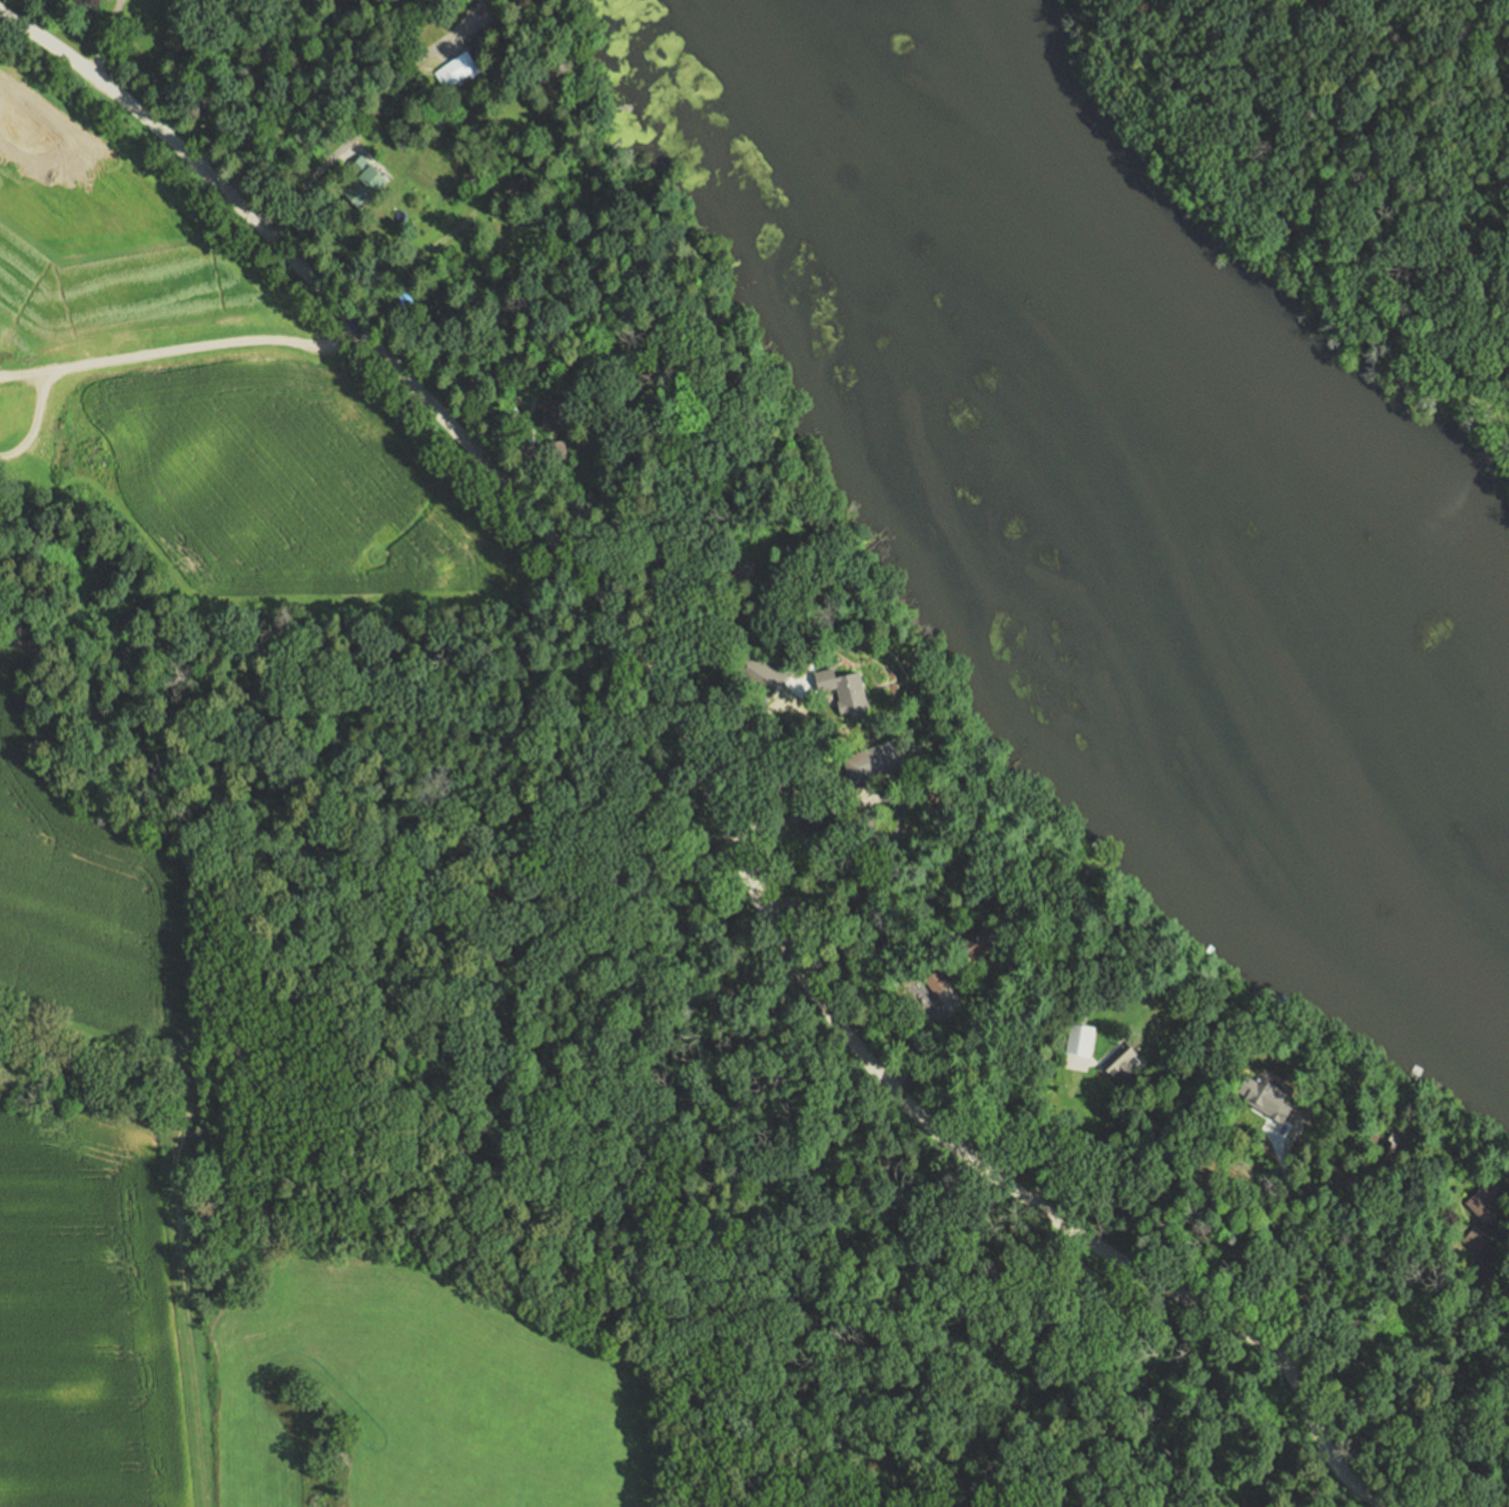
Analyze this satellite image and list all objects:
building: (517, 1)
building: (524, 1)
road: (104, 39)
building: (453, 70)
road: (215, 78)
road: (255, 82)
road: (307, 96)
road: (369, 120)
building: (362, 185)
building: (514, 185)
road: (418, 254)
building: (657, 255)
building: (701, 320)
building: (552, 413)
building: (555, 450)
river: (1106, 457)
road: (539, 480)
road: (661, 499)
building: (749, 561)
road: (713, 617)
building: (748, 671)
building: (843, 688)
road: (810, 741)
building: (875, 758)
road: (698, 769)
road: (897, 820)
building: (811, 824)
road: (869, 826)
building: (956, 960)
building: (1074, 1039)
road: (921, 1042)
building: (1114, 1059)
building: (1272, 1074)
road: (1056, 1139)
building: (1378, 1156)
building: (1338, 1175)
building: (1483, 1204)
road: (1287, 1216)
building: (1477, 1240)
road: (1312, 1269)
road: (177, 1272)
road: (1432, 1370)

